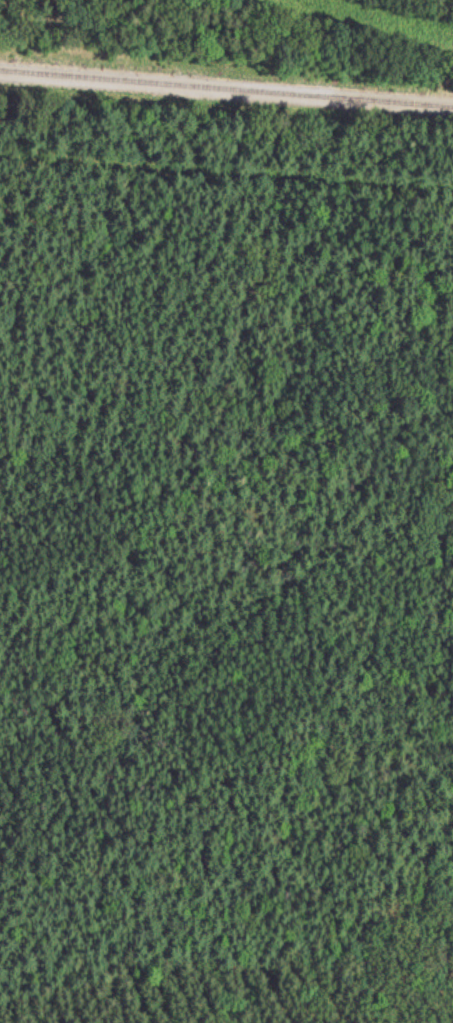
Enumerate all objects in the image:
railway: (226, 88)

